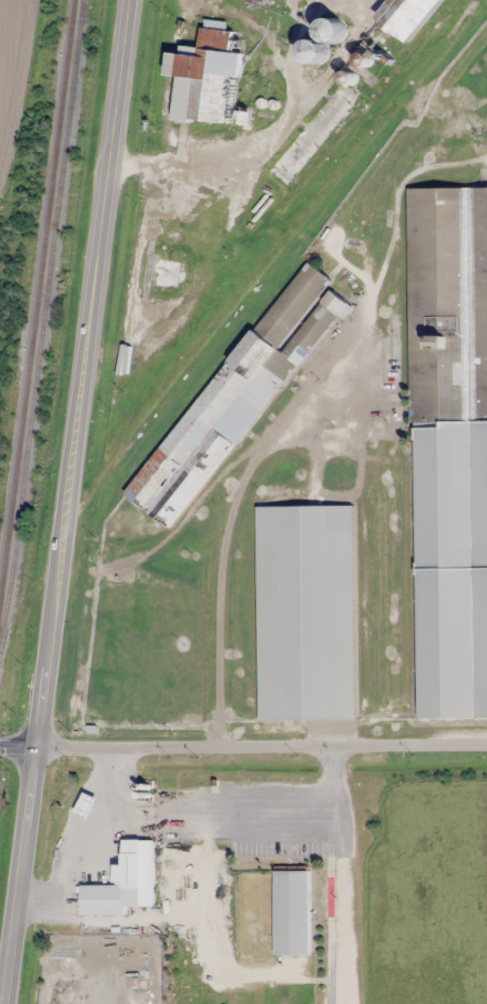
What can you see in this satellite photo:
building: (407, 16)
building: (332, 30)
building: (205, 74)
building: (313, 133)
road: (448, 170)
building: (168, 272)
railway: (37, 299)
railway: (44, 317)
road: (84, 374)
building: (239, 395)
building: (450, 450)
road: (199, 506)
road: (224, 594)
building: (306, 613)
road: (19, 746)
road: (262, 747)
road: (21, 876)
building: (123, 882)
building: (291, 912)
building: (72, 961)

